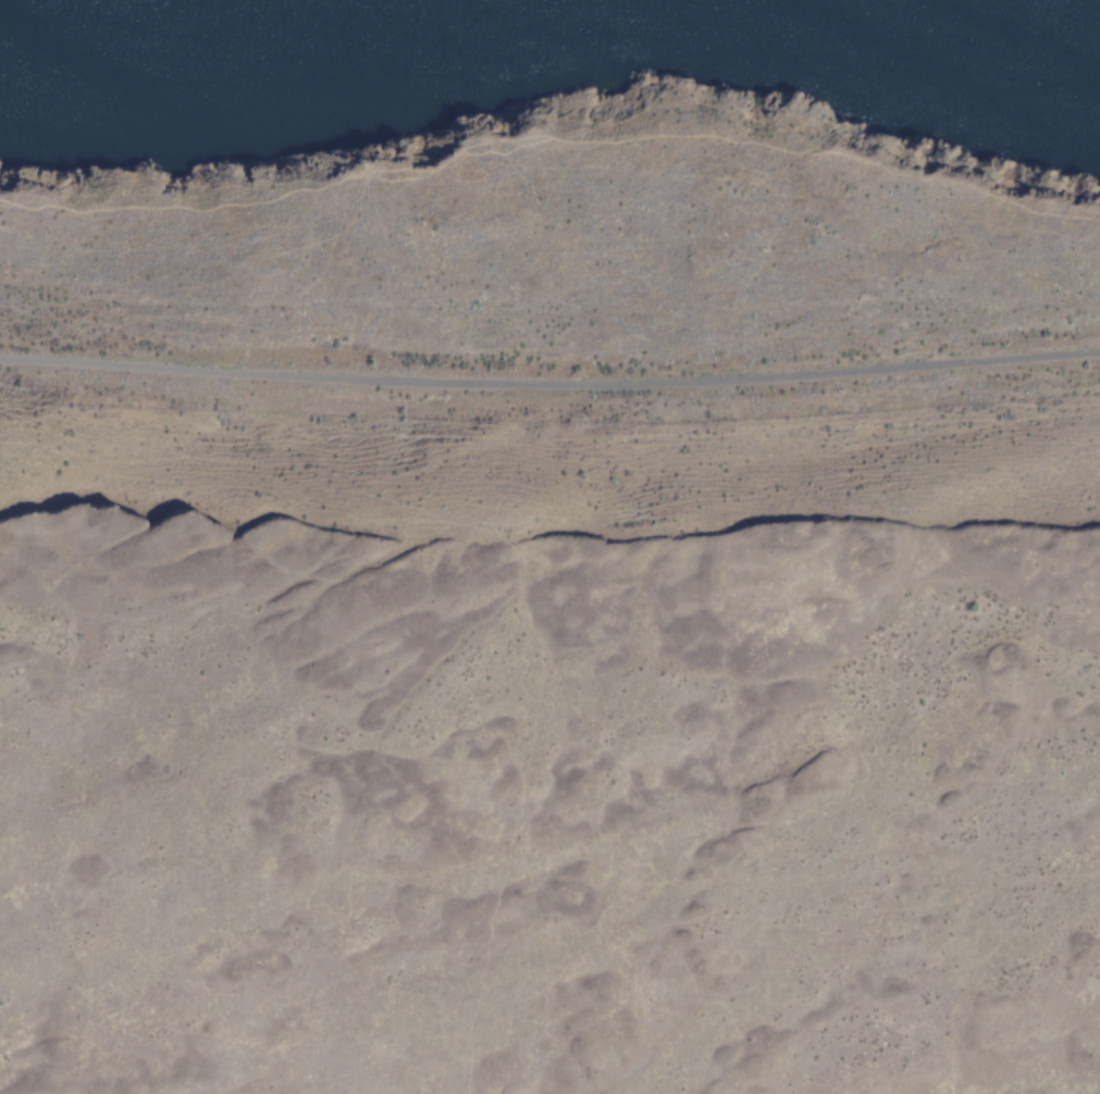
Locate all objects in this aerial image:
park: (861, 212)
road: (549, 396)

